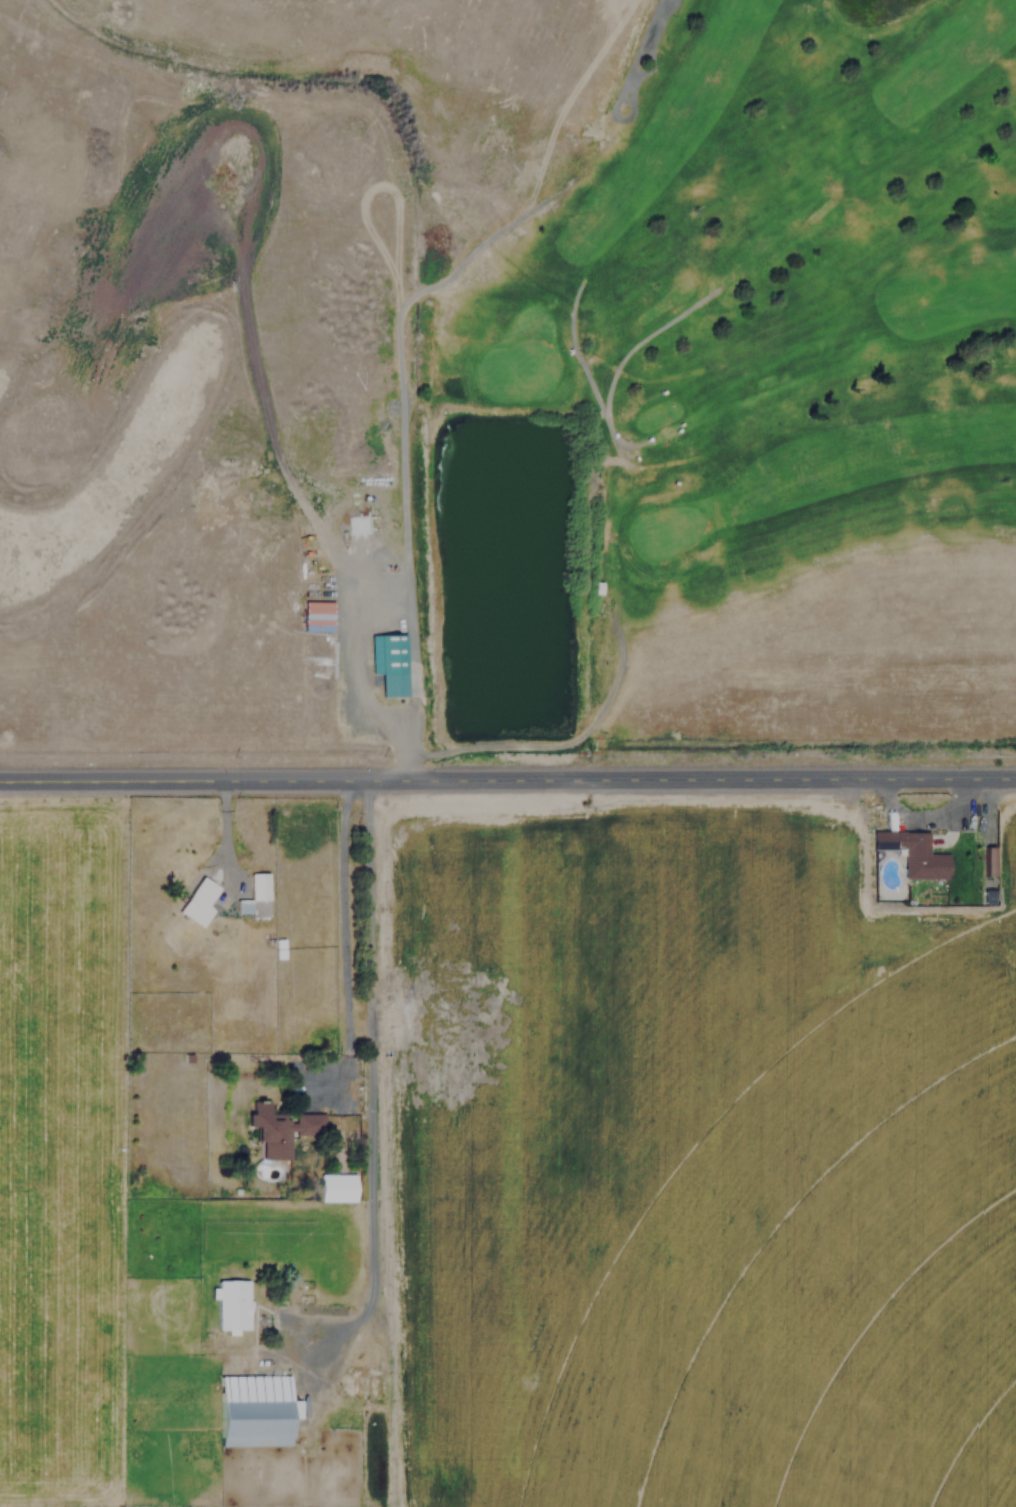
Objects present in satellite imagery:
park: (740, 408)
building: (316, 615)
building: (388, 663)
road: (507, 781)
road: (225, 828)
building: (911, 852)
building: (255, 896)
building: (204, 904)
road: (345, 940)
crop: (594, 1030)
road: (368, 1092)
building: (279, 1128)
building: (335, 1187)
crop: (800, 1260)
building: (230, 1304)
building: (271, 1407)

